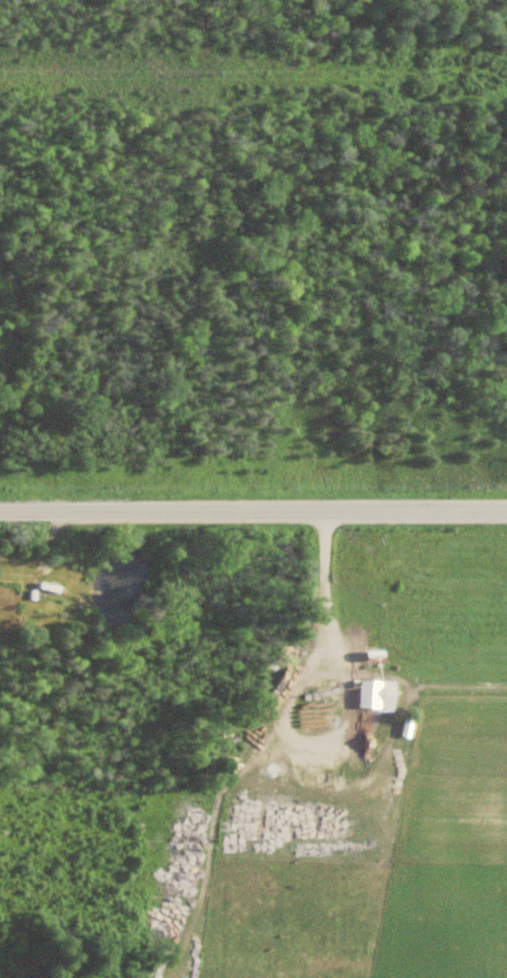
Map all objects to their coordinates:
road: (253, 505)
building: (367, 694)

